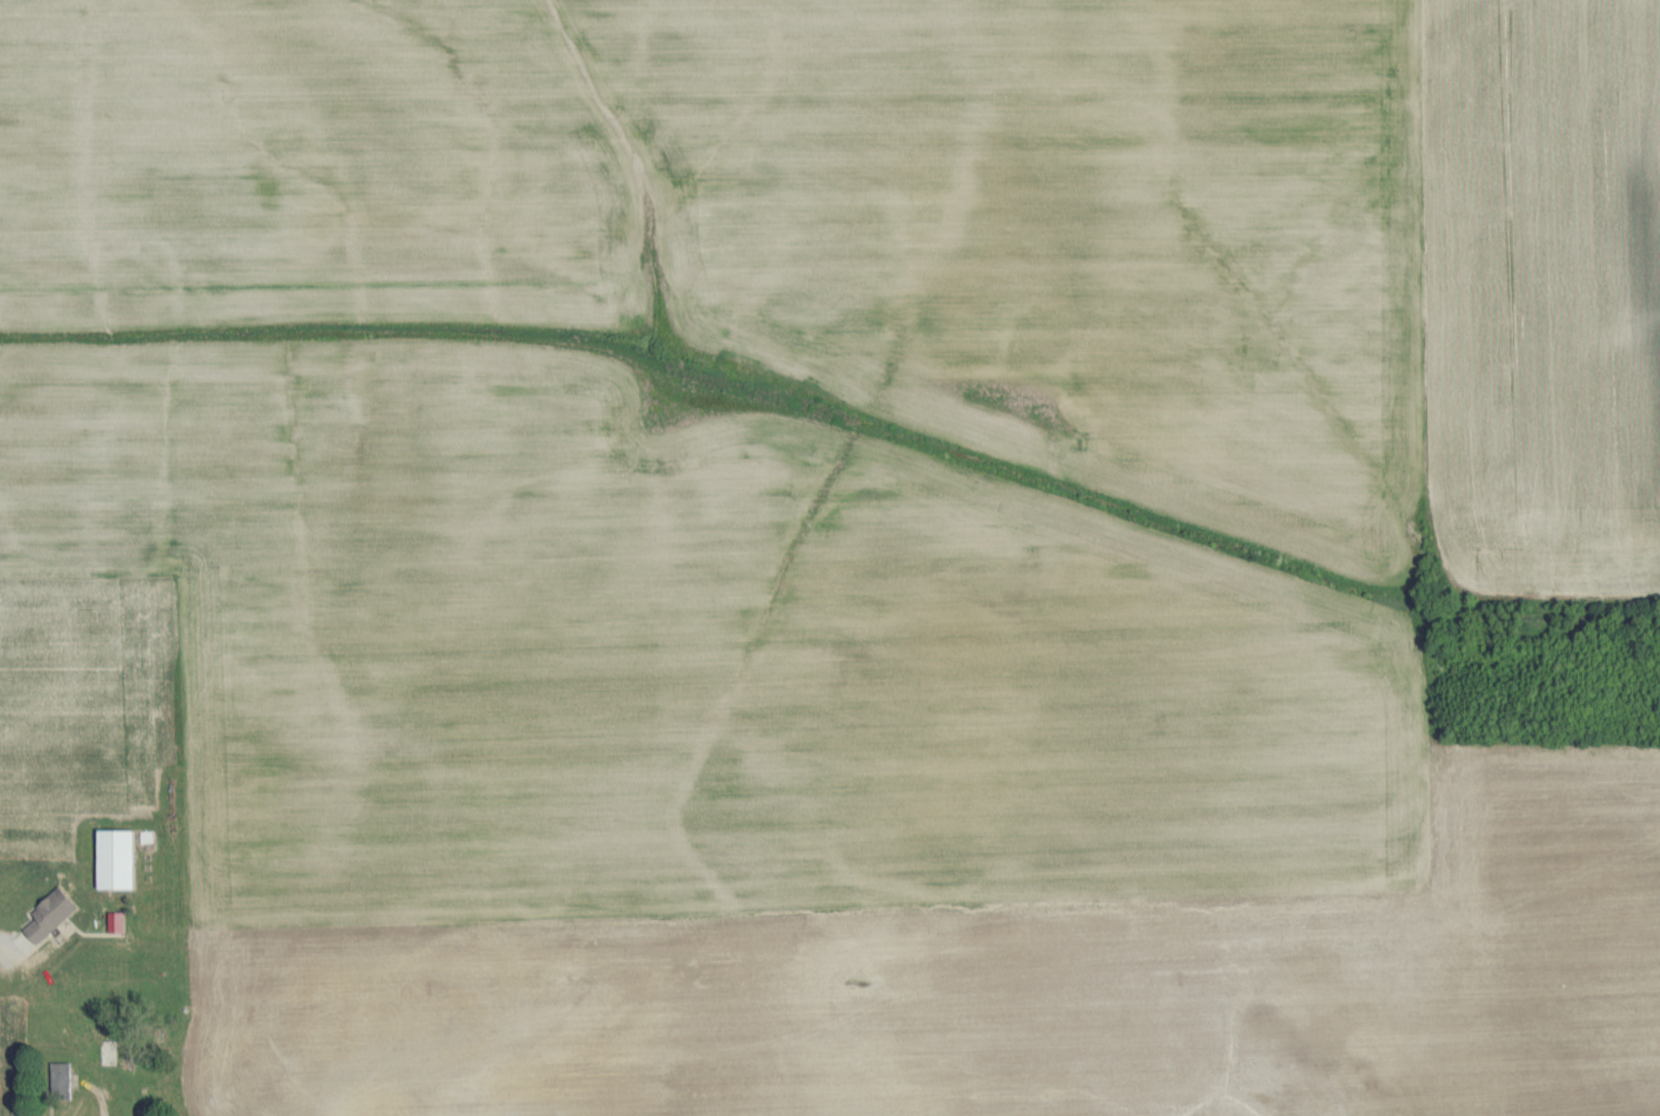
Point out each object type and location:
building: (120, 858)
building: (55, 914)
building: (119, 921)
building: (65, 1076)
road: (96, 1097)

